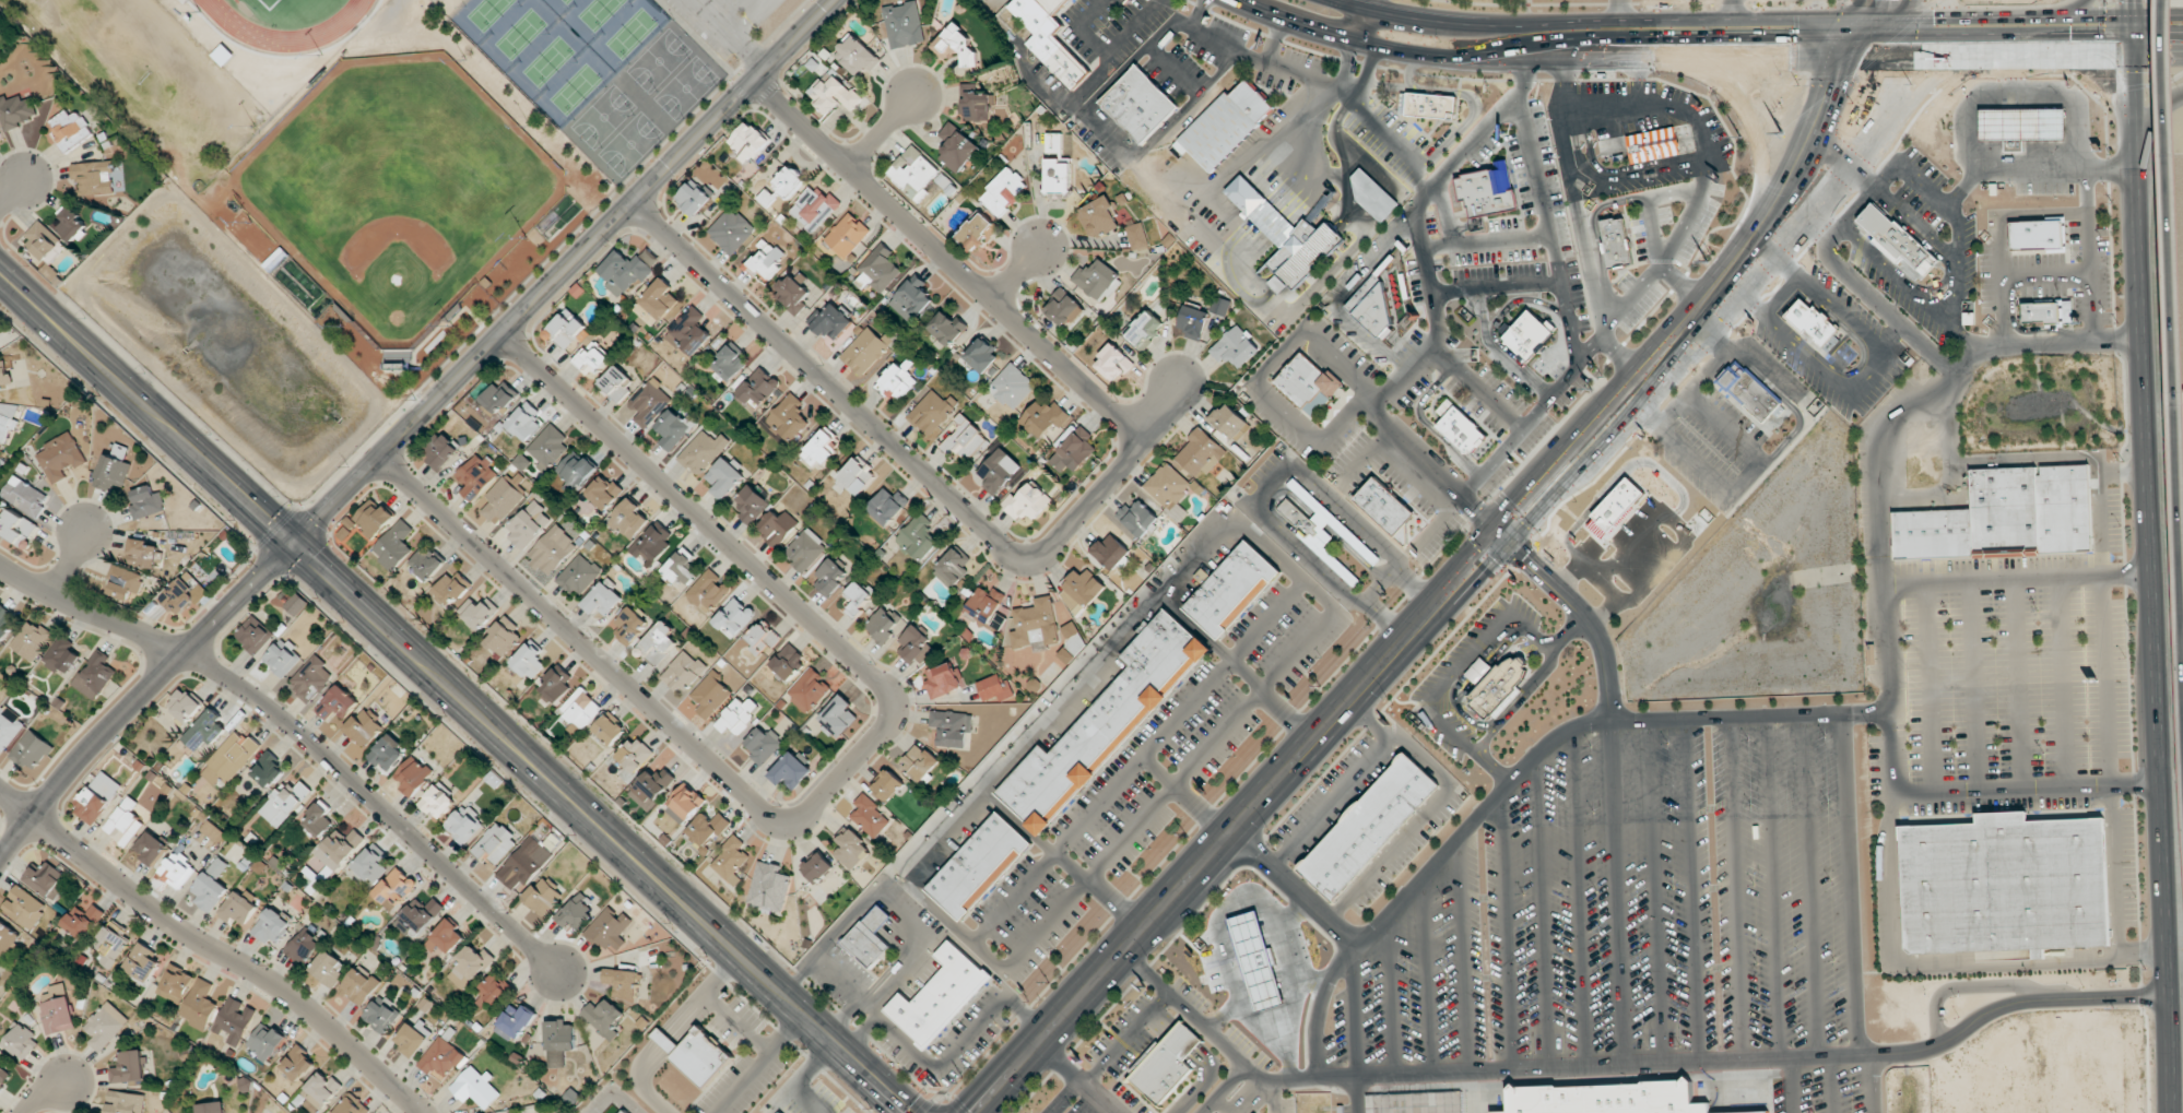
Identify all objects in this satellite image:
park: (268, 3)
road: (1371, 5)
road: (2073, 12)
road: (1199, 13)
road: (1620, 13)
road: (1735, 13)
road: (713, 19)
traffic signals: (2157, 23)
building: (904, 24)
road: (2120, 24)
traffic signals: (1887, 25)
road: (1365, 27)
road: (1692, 27)
road: (1165, 28)
road: (735, 34)
building: (1050, 38)
road: (1274, 39)
road: (1547, 43)
building: (957, 45)
road: (1106, 50)
building: (857, 56)
traffic signals: (1886, 58)
road: (1987, 58)
road: (2136, 58)
traffic signals: (2090, 59)
road: (1555, 62)
road: (1346, 66)
road: (1365, 71)
road: (2110, 73)
road: (1524, 83)
road: (1638, 84)
road: (1347, 93)
building: (835, 95)
building: (1140, 104)
building: (976, 105)
building: (1429, 105)
building: (16, 111)
road: (2149, 115)
building: (2022, 125)
building: (1226, 126)
building: (70, 129)
road: (884, 131)
building: (0, 135)
road: (1584, 135)
power tower: (1779, 137)
building: (748, 141)
building: (1054, 143)
building: (1656, 145)
building: (957, 147)
road: (1860, 168)
building: (913, 173)
road: (1626, 173)
building: (94, 177)
building: (1059, 177)
building: (789, 182)
building: (1488, 189)
road: (12, 192)
building: (1003, 192)
building: (1372, 193)
building: (693, 198)
building: (767, 198)
building: (814, 206)
road: (1853, 209)
road: (1444, 214)
building: (1098, 217)
building: (71, 223)
building: (731, 230)
building: (978, 232)
road: (1594, 233)
building: (2038, 234)
building: (847, 235)
road: (1651, 235)
building: (1137, 236)
building: (1285, 237)
building: (1897, 238)
building: (43, 239)
road: (1485, 240)
building: (1616, 241)
road: (1585, 250)
road: (1668, 250)
road: (947, 259)
building: (765, 261)
building: (628, 269)
building: (878, 269)
road: (564, 271)
power tower: (1698, 272)
road: (1018, 273)
building: (1096, 279)
road: (1495, 287)
road: (1681, 287)
building: (793, 293)
road: (1344, 295)
building: (912, 299)
building: (659, 303)
road: (1879, 305)
building: (1064, 307)
building: (1374, 309)
road: (1482, 311)
building: (2044, 311)
road: (2173, 311)
building: (1193, 320)
building: (1813, 321)
building: (833, 322)
building: (947, 328)
building: (566, 329)
building: (1144, 329)
road: (1490, 330)
building: (689, 332)
building: (1529, 333)
road: (2045, 345)
building: (1235, 347)
building: (865, 351)
building: (982, 355)
building: (592, 358)
building: (731, 362)
building: (1113, 363)
building: (4, 375)
building: (897, 381)
building: (617, 382)
building: (1308, 382)
building: (1012, 387)
road: (1475, 387)
building: (759, 388)
building: (1750, 391)
building: (499, 398)
building: (650, 402)
road: (1164, 411)
building: (932, 412)
building: (1046, 416)
building: (7, 418)
building: (789, 418)
building: (1230, 421)
building: (526, 422)
road: (1383, 423)
road: (1427, 424)
building: (674, 428)
building: (1461, 429)
building: (964, 440)
road: (890, 442)
building: (548, 446)
building: (821, 449)
building: (440, 451)
building: (703, 451)
building: (1074, 451)
building: (1200, 452)
building: (60, 457)
building: (113, 469)
building: (577, 469)
building: (999, 471)
building: (857, 475)
building: (475, 476)
building: (725, 477)
building: (1168, 485)
building: (604, 492)
building: (1653, 492)
building: (25, 496)
building: (501, 500)
building: (146, 501)
building: (1027, 501)
building: (752, 504)
building: (1385, 505)
building: (888, 506)
building: (1615, 507)
building: (2007, 516)
building: (1137, 518)
building: (629, 519)
building: (371, 520)
building: (528, 524)
building: (777, 526)
building: (17, 528)
building: (1324, 530)
traffic signals: (1501, 534)
building: (918, 536)
power tower: (1454, 538)
building: (653, 542)
traffic signals: (293, 543)
building: (394, 546)
building: (552, 550)
building: (805, 550)
building: (1111, 550)
building: (143, 553)
road: (2152, 556)
road: (68, 563)
building: (427, 564)
building: (680, 567)
building: (953, 568)
building: (579, 575)
road: (1465, 575)
building: (829, 577)
road: (2018, 581)
building: (125, 582)
building: (453, 588)
building: (1232, 589)
road: (1881, 589)
building: (1081, 590)
building: (190, 591)
building: (708, 592)
building: (603, 597)
building: (858, 597)
building: (296, 604)
building: (988, 606)
building: (479, 613)
building: (734, 617)
building: (5, 620)
building: (883, 624)
building: (629, 626)
building: (255, 635)
building: (505, 636)
building: (764, 636)
building: (31, 640)
building: (1073, 641)
building: (659, 643)
building: (914, 644)
building: (62, 655)
building: (282, 658)
building: (528, 661)
building: (788, 661)
building: (683, 672)
building: (95, 675)
building: (311, 678)
building: (943, 679)
building: (1501, 683)
building: (556, 684)
power tower: (1319, 684)
building: (991, 688)
building: (809, 690)
road: (453, 692)
road: (141, 695)
building: (711, 695)
building: (338, 703)
building: (185, 704)
building: (581, 708)
building: (737, 715)
building: (838, 717)
building: (1105, 723)
building: (9, 726)
building: (364, 727)
building: (952, 727)
building: (610, 729)
building: (206, 731)
road: (303, 735)
building: (763, 743)
building: (32, 749)
building: (387, 753)
building: (635, 754)
building: (231, 758)
building: (920, 762)
building: (269, 770)
road: (842, 770)
building: (791, 771)
building: (414, 775)
building: (888, 785)
building: (652, 788)
road: (2027, 791)
building: (97, 797)
building: (437, 801)
building: (284, 803)
building: (686, 803)
road: (14, 804)
building: (870, 816)
building: (320, 819)
building: (125, 822)
building: (464, 825)
building: (1369, 826)
building: (708, 828)
power tower: (1184, 830)
building: (495, 843)
building: (152, 848)
building: (339, 848)
building: (851, 849)
building: (731, 861)
building: (371, 864)
building: (526, 864)
building: (979, 865)
building: (818, 867)
building: (177, 869)
road: (1426, 873)
building: (47, 879)
building: (2005, 884)
road: (1851, 885)
building: (211, 886)
road: (1810, 886)
building: (769, 887)
building: (396, 888)
road: (1293, 888)
road: (1771, 888)
road: (1735, 889)
road: (1691, 891)
road: (1616, 892)
road: (1654, 892)
building: (542, 896)
road: (1579, 899)
building: (24, 907)
building: (238, 910)
building: (575, 912)
road: (1542, 912)
building: (418, 916)
building: (83, 921)
building: (272, 926)
building: (609, 930)
road: (1507, 933)
building: (446, 937)
building: (870, 938)
building: (8, 939)
building: (111, 944)
building: (305, 947)
road: (229, 957)
road: (1463, 959)
building: (1262, 961)
building: (0, 962)
building: (141, 963)
building: (471, 967)
building: (329, 968)
road: (1428, 975)
building: (175, 983)
building: (623, 983)
power tower: (1049, 983)
building: (359, 986)
building: (493, 988)
road: (704, 994)
building: (941, 995)
road: (1391, 997)
building: (199, 1005)
building: (58, 1009)
road: (1354, 1010)
building: (381, 1015)
building: (605, 1018)
building: (234, 1020)
building: (515, 1022)
road: (736, 1023)
building: (105, 1026)
building: (411, 1040)
building: (22, 1041)
building: (559, 1041)
road: (664, 1041)
building: (265, 1042)
building: (696, 1053)
building: (441, 1058)
building: (1166, 1063)
building: (298, 1064)
road: (758, 1064)
building: (129, 1067)
road: (1625, 1067)
building: (3, 1076)
power tower: (961, 1076)
road: (799, 1078)
road: (639, 1084)
road: (1872, 1084)
road: (1831, 1085)
road: (1792, 1086)
building: (475, 1087)
building: (323, 1089)
road: (44, 1093)
road: (1357, 1094)
building: (1606, 1098)
road: (619, 1099)
building: (125, 1102)
building: (352, 1105)
building: (212, 1108)
building: (625, 1111)
building: (782, 1112)
building: (1748, 1112)

